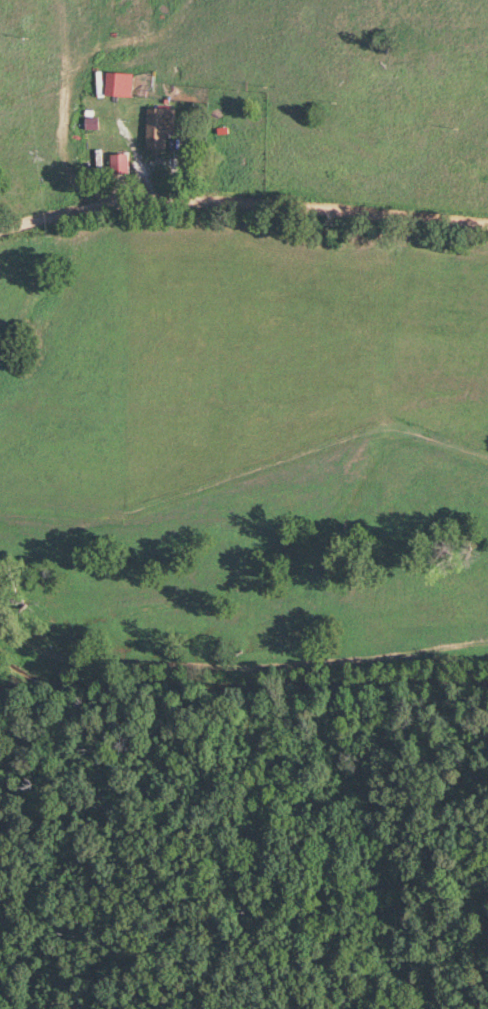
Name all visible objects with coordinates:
building: (154, 134)
building: (115, 166)
road: (243, 205)

